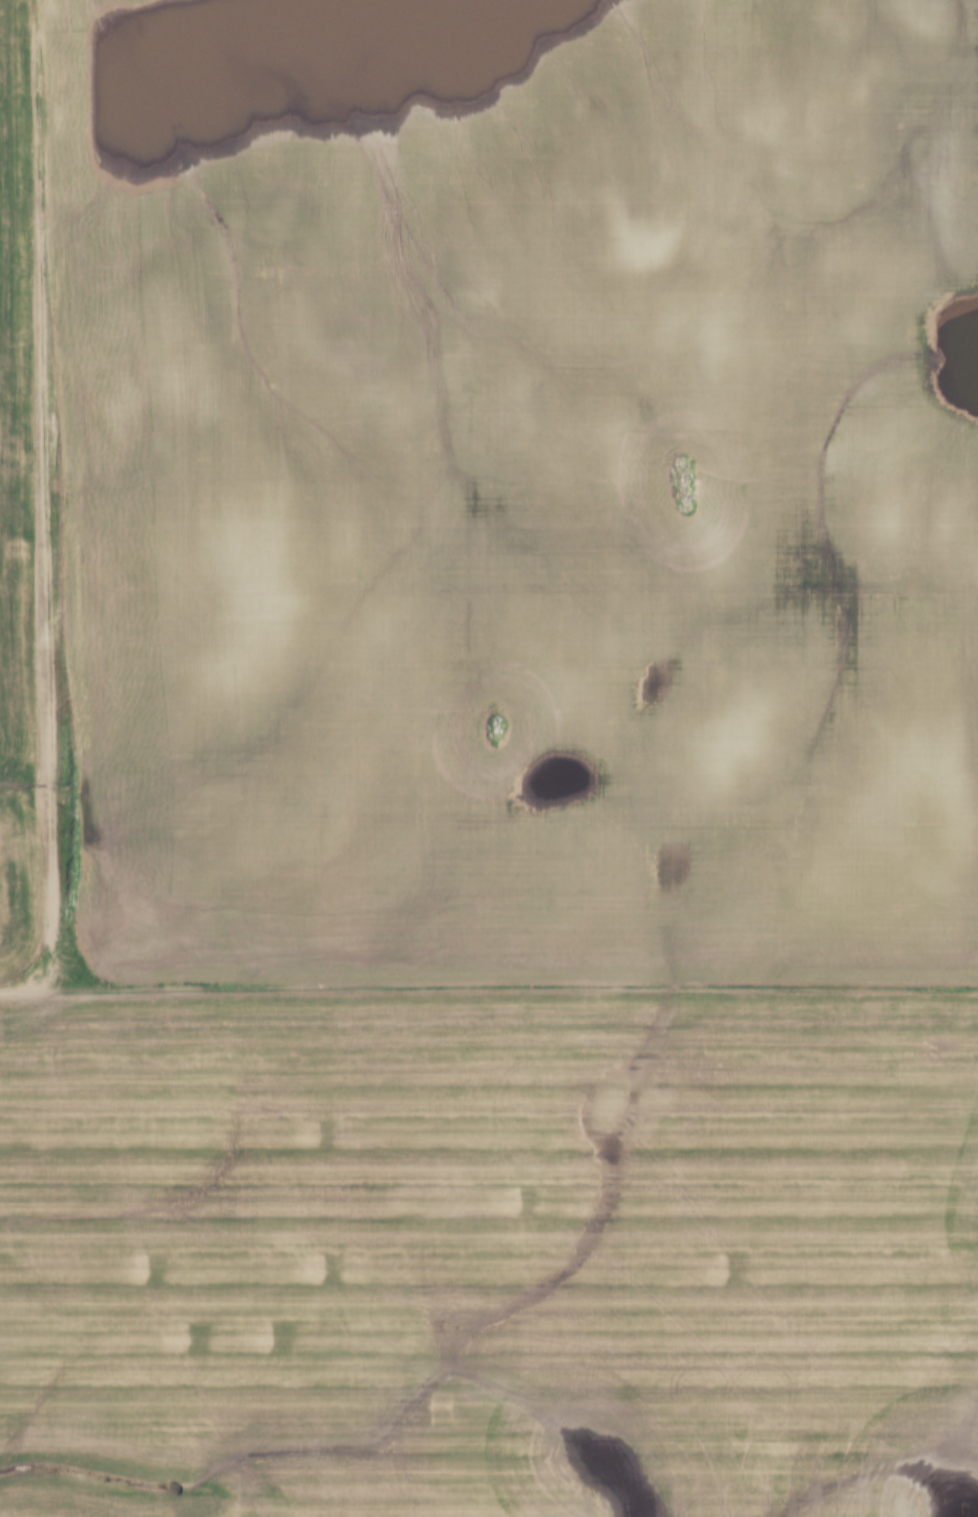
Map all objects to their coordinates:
road: (488, 989)

